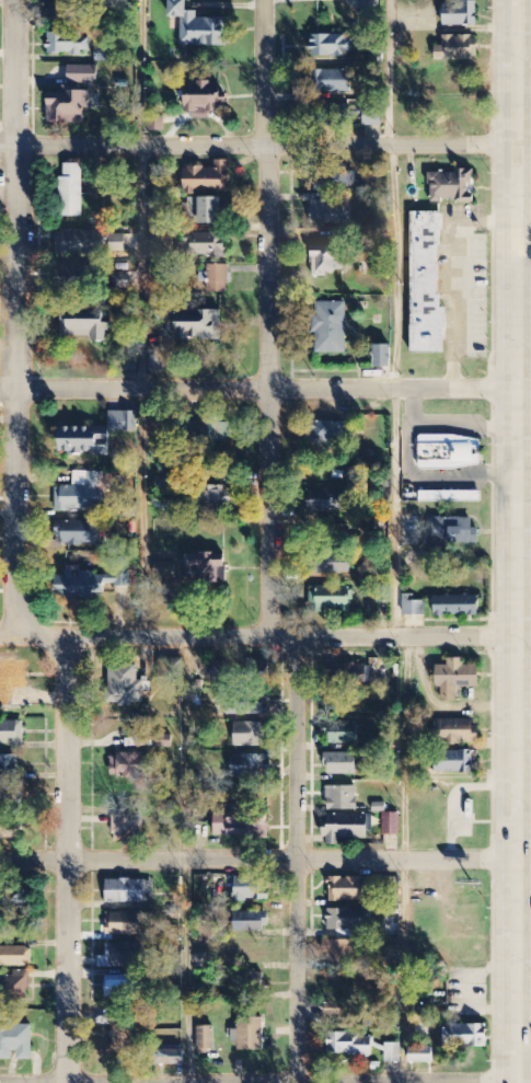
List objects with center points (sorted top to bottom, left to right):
building: (370, 4)
building: (67, 13)
building: (460, 14)
building: (198, 26)
building: (68, 44)
building: (332, 46)
building: (457, 48)
building: (102, 55)
road: (524, 71)
building: (82, 74)
building: (333, 82)
building: (204, 100)
building: (68, 106)
building: (372, 120)
road: (258, 146)
building: (208, 178)
building: (332, 178)
building: (452, 186)
building: (71, 192)
building: (206, 209)
building: (330, 214)
building: (80, 242)
building: (116, 244)
building: (208, 245)
building: (324, 261)
road: (455, 275)
building: (218, 278)
building: (70, 280)
building: (427, 287)
road: (524, 296)
road: (138, 318)
road: (267, 318)
building: (83, 324)
building: (194, 325)
building: (330, 329)
building: (382, 356)
building: (155, 359)
building: (130, 365)
road: (258, 388)
road: (524, 389)
road: (412, 405)
road: (462, 423)
road: (524, 427)
building: (326, 434)
building: (96, 435)
building: (210, 436)
road: (405, 448)
building: (450, 453)
road: (462, 472)
building: (82, 494)
building: (450, 497)
building: (218, 498)
building: (325, 500)
road: (394, 512)
road: (524, 519)
building: (337, 533)
building: (453, 534)
road: (518, 541)
road: (12, 550)
building: (332, 564)
building: (205, 567)
building: (86, 584)
building: (384, 595)
building: (330, 600)
building: (413, 607)
building: (455, 607)
road: (258, 636)
building: (169, 669)
building: (221, 671)
building: (455, 679)
building: (12, 684)
building: (128, 689)
building: (245, 707)
building: (455, 731)
building: (11, 733)
building: (345, 734)
building: (250, 735)
road: (524, 742)
building: (455, 763)
building: (342, 764)
building: (8, 767)
building: (127, 767)
building: (249, 767)
building: (342, 798)
building: (232, 825)
building: (391, 825)
building: (345, 827)
building: (127, 830)
building: (9, 831)
road: (297, 859)
road: (402, 859)
road: (184, 860)
road: (258, 860)
building: (346, 890)
building: (126, 892)
building: (14, 902)
building: (347, 921)
building: (251, 922)
building: (124, 924)
building: (339, 953)
building: (15, 957)
building: (120, 957)
road: (523, 970)
building: (250, 978)
building: (14, 987)
building: (119, 989)
building: (337, 1011)
building: (123, 1032)
building: (249, 1035)
building: (465, 1037)
building: (205, 1039)
building: (15, 1042)
building: (349, 1046)
building: (392, 1053)
building: (170, 1057)
building: (422, 1057)
road: (350, 1082)
road: (409, 1082)

